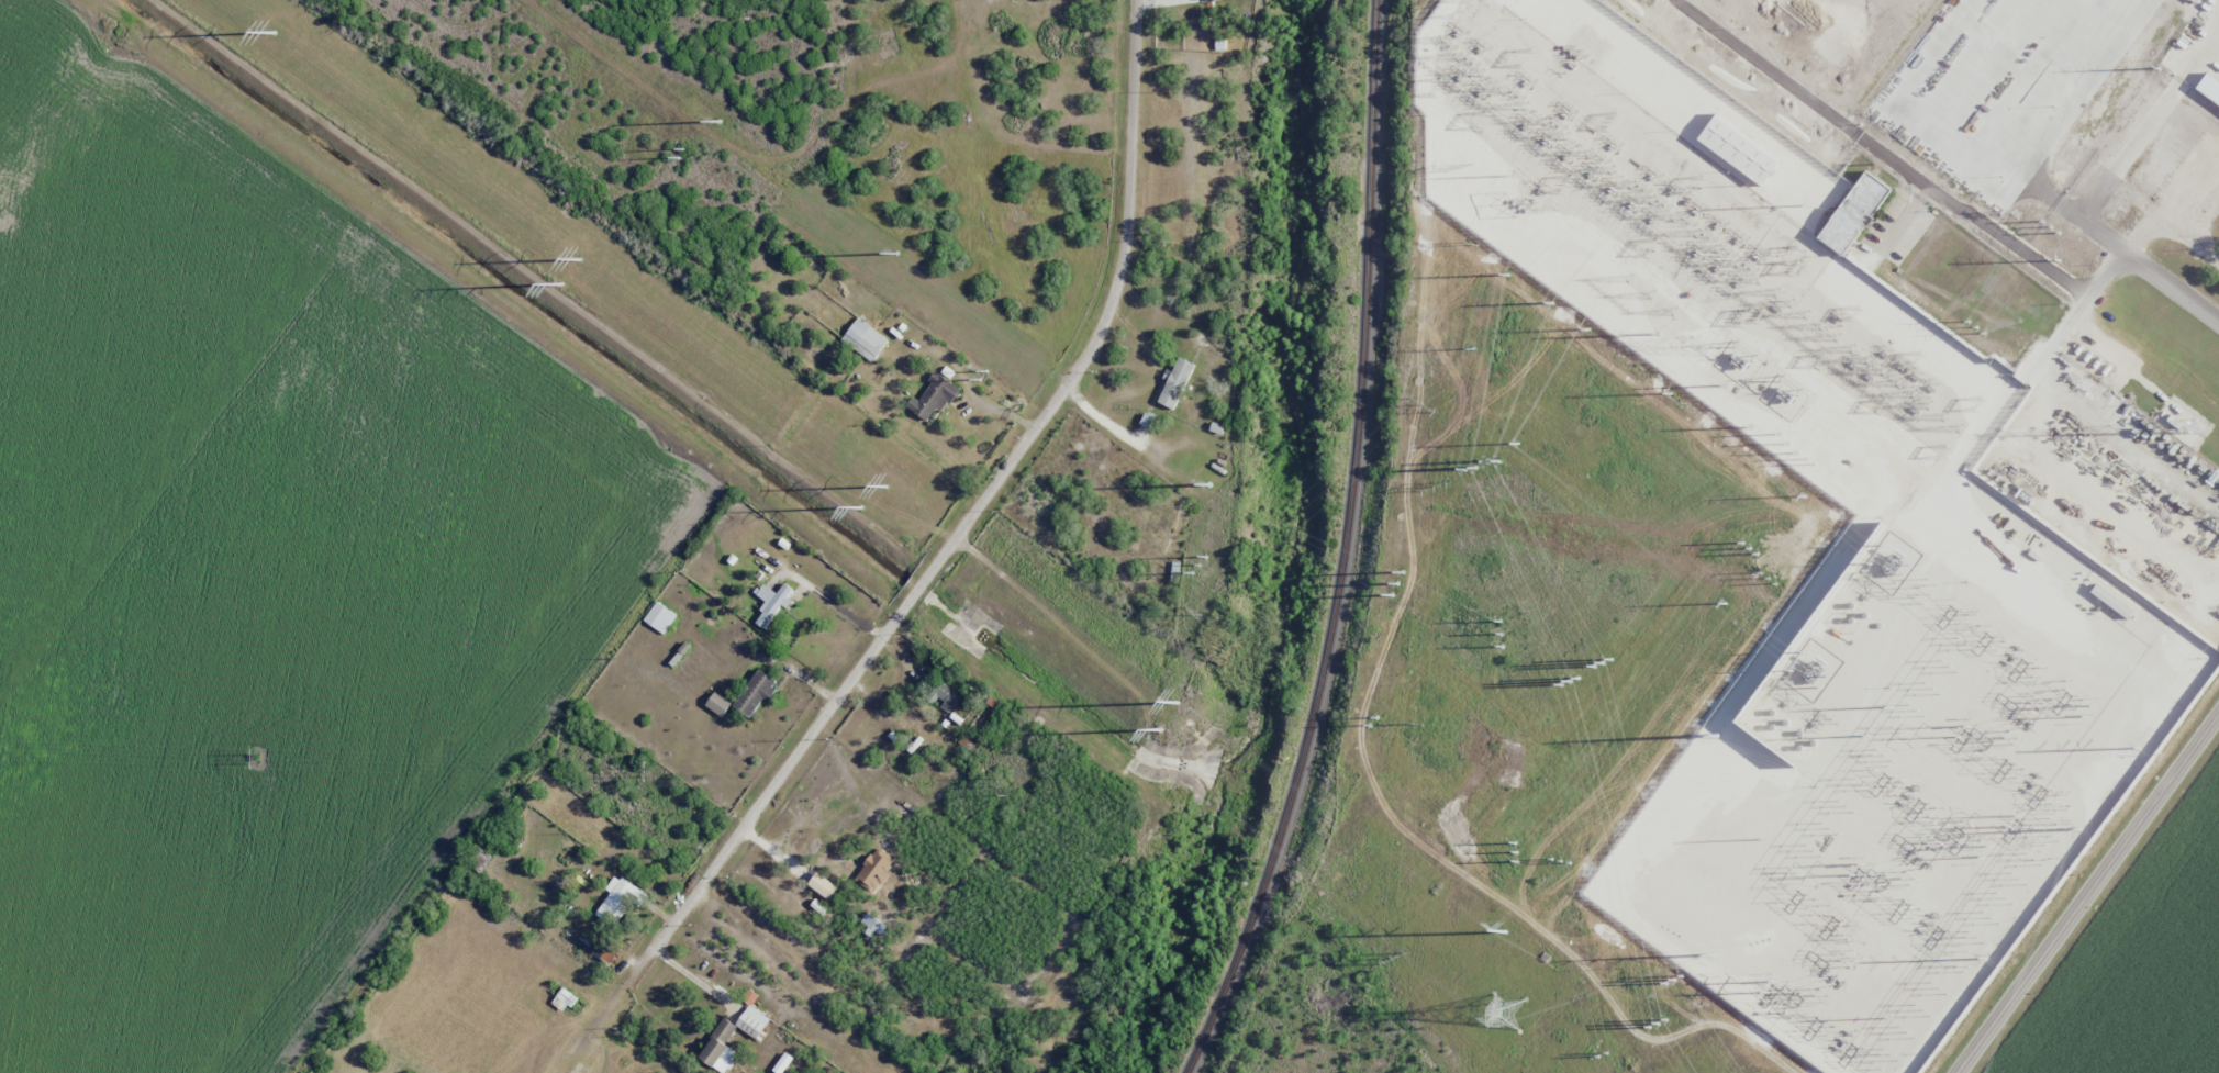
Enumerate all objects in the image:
building: (1209, 0)
power tower: (271, 33)
power tower: (2160, 67)
power tower: (718, 120)
building: (1739, 149)
power tower: (679, 152)
power tower: (1460, 166)
power tower: (1514, 176)
power tower: (1513, 204)
power tower: (1813, 204)
building: (1853, 213)
power tower: (2017, 213)
power tower: (2051, 227)
power tower: (1472, 242)
power tower: (896, 254)
power tower: (578, 260)
power tower: (2060, 260)
power tower: (1507, 275)
power tower: (561, 286)
power tower: (1549, 302)
power tower: (1976, 327)
power tower: (1590, 329)
power tower: (1659, 334)
power tower: (1623, 335)
building: (865, 338)
power tower: (1474, 344)
road: (1001, 345)
power tower: (983, 376)
building: (1175, 382)
power tower: (1726, 384)
power tower: (1672, 392)
building: (934, 395)
power tower: (1428, 403)
building: (1148, 420)
power tower: (1752, 427)
power tower: (1784, 437)
power tower: (1519, 443)
power tower: (1491, 459)
power tower: (1809, 460)
power tower: (1470, 468)
power tower: (1211, 484)
power tower: (887, 487)
power tower: (1435, 488)
power tower: (1805, 495)
road: (974, 508)
power tower: (859, 511)
railway: (1347, 548)
power tower: (1750, 548)
power tower: (1198, 565)
power substation: (1817, 575)
power tower: (1769, 577)
crop: (263, 578)
power tower: (1400, 584)
building: (772, 602)
power tower: (1727, 603)
power tower: (1200, 610)
building: (660, 617)
power tower: (1502, 635)
power tower: (1601, 664)
power tower: (1565, 684)
building: (755, 693)
building: (945, 695)
building: (718, 703)
power tower: (1178, 703)
power tower: (2086, 706)
power tower: (1725, 714)
power tower: (1375, 722)
power tower: (1412, 723)
power tower: (1159, 730)
power tower: (1962, 734)
power tower: (2137, 747)
power tower: (257, 757)
power tower: (653, 770)
power tower: (1006, 786)
power tower: (2016, 821)
power tower: (2082, 828)
power tower: (1983, 843)
power tower: (1517, 851)
power tower: (1561, 860)
power tower: (1858, 871)
building: (823, 885)
road: (2088, 894)
building: (618, 899)
power tower: (1504, 931)
power tower: (1713, 953)
power tower: (1393, 954)
power tower: (1987, 959)
crop: (2142, 965)
power tower: (1673, 981)
power tower: (1771, 991)
building: (564, 999)
power tower: (1502, 1011)
building: (754, 1021)
power tower: (1657, 1022)
building: (720, 1048)
power tower: (1602, 1054)
building: (782, 1062)

